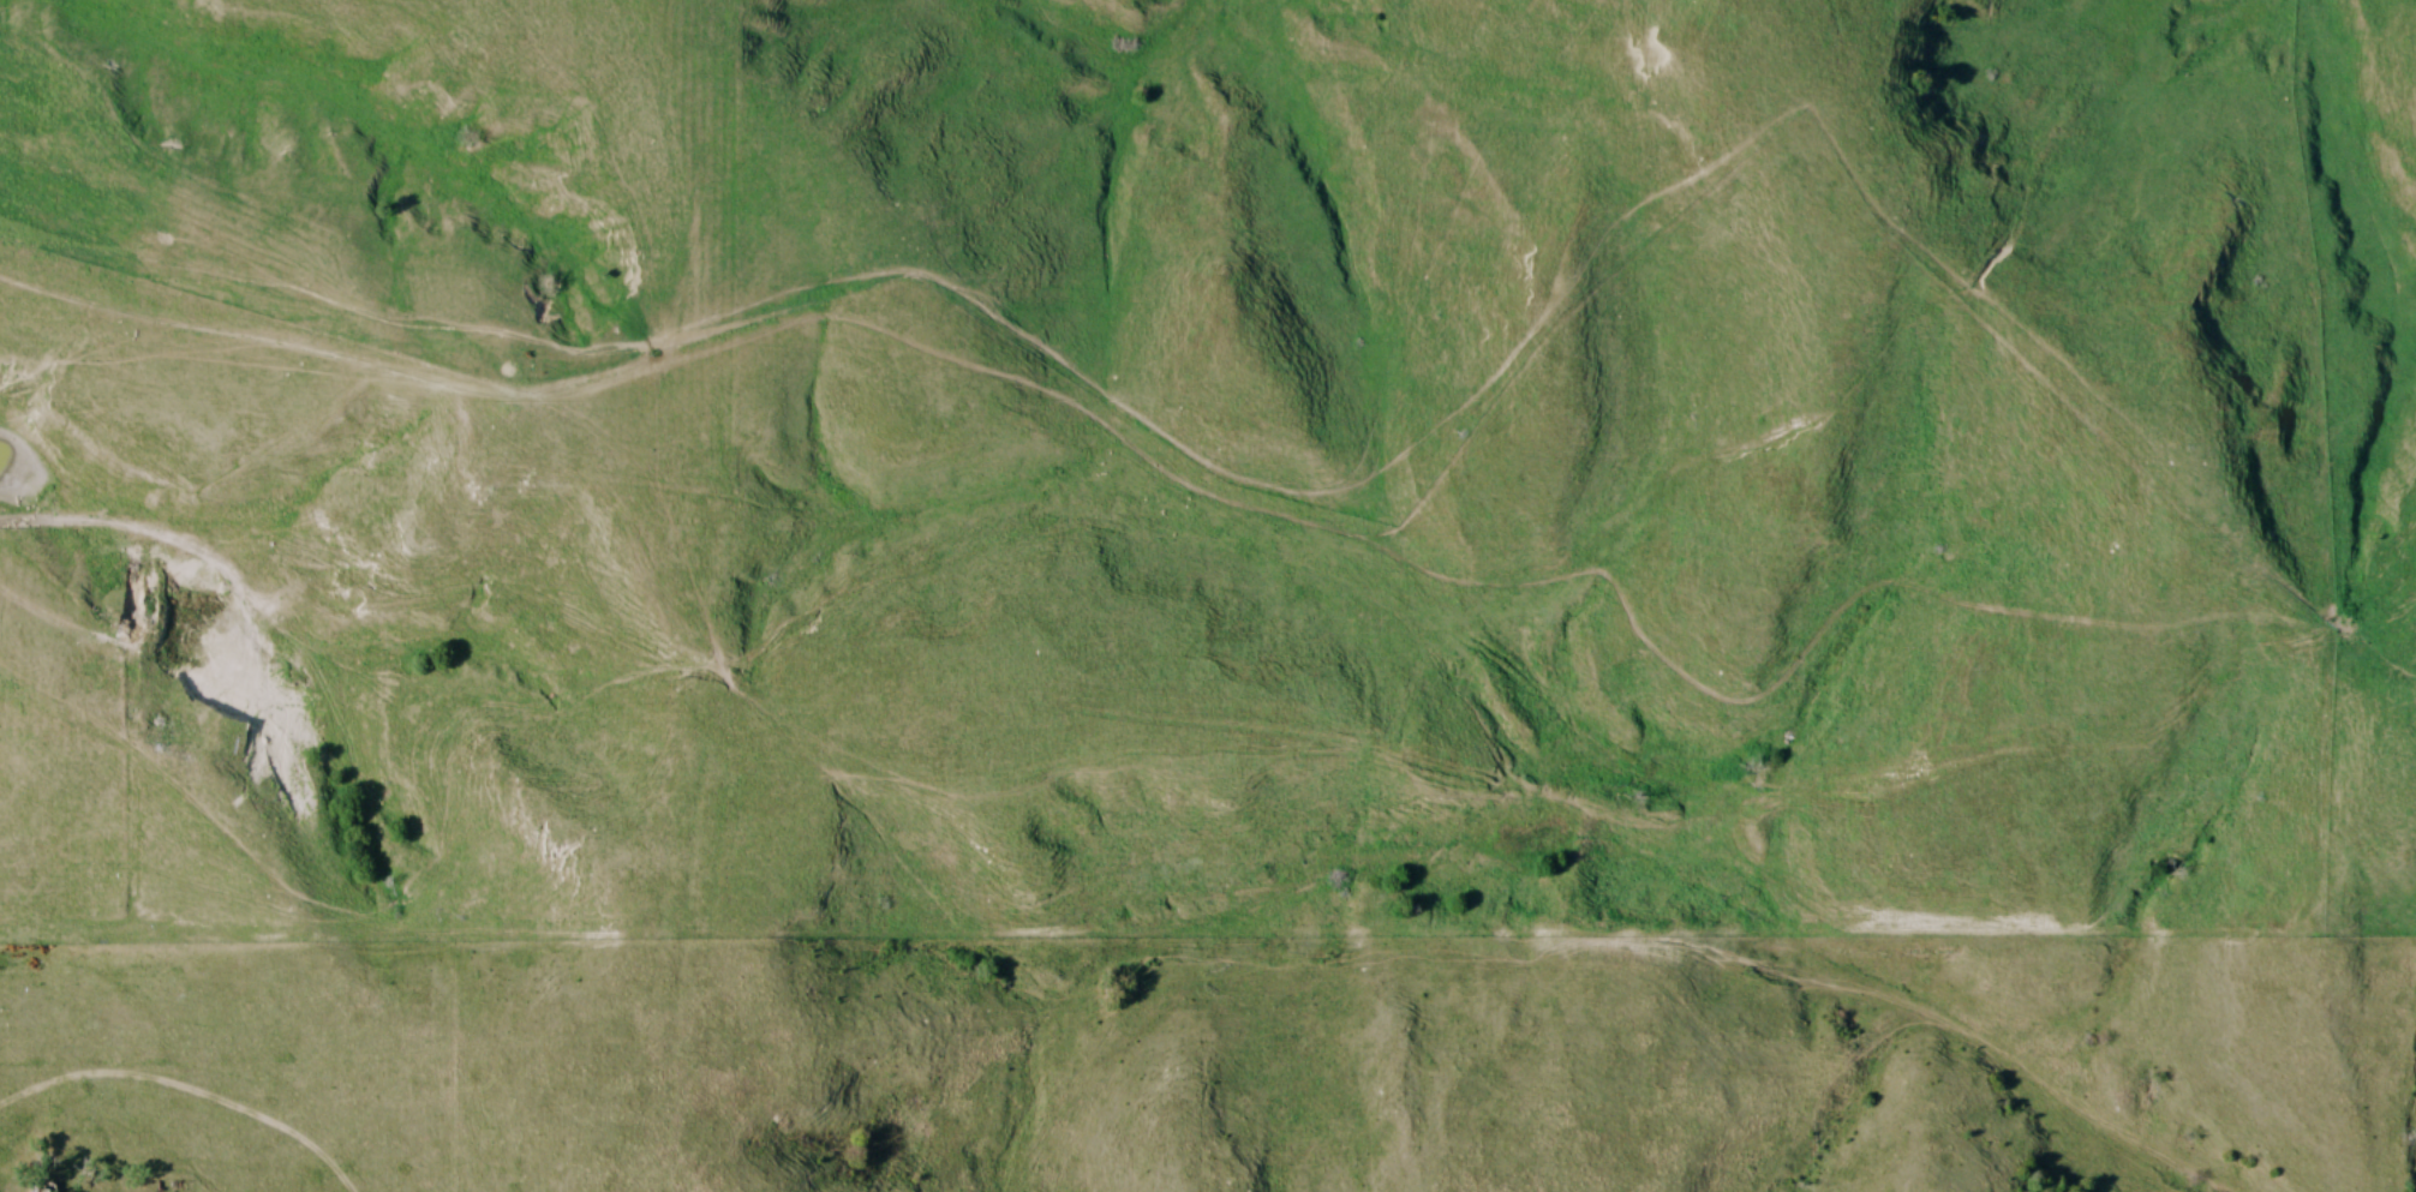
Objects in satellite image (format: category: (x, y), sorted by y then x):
building: (40, 1191)

